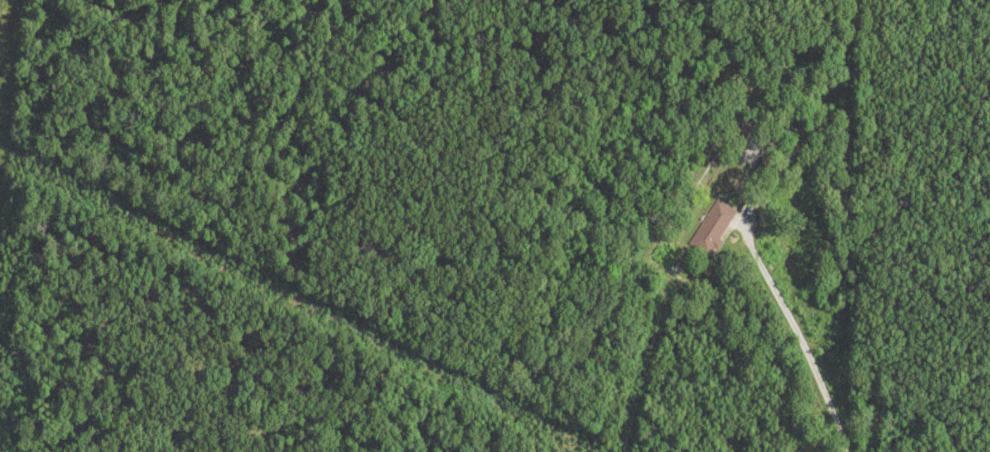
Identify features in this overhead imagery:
building: (712, 229)
road: (789, 338)

